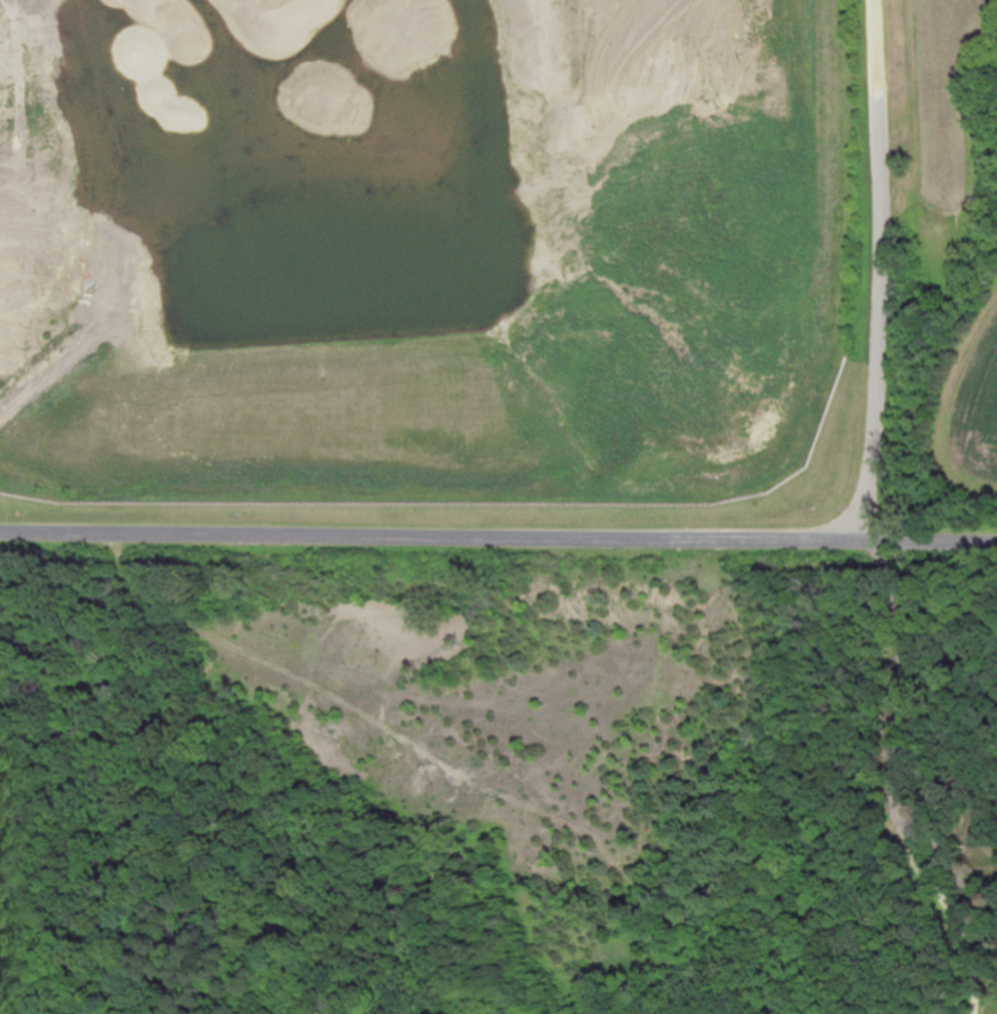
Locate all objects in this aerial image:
road: (875, 267)
road: (498, 535)
road: (895, 743)

